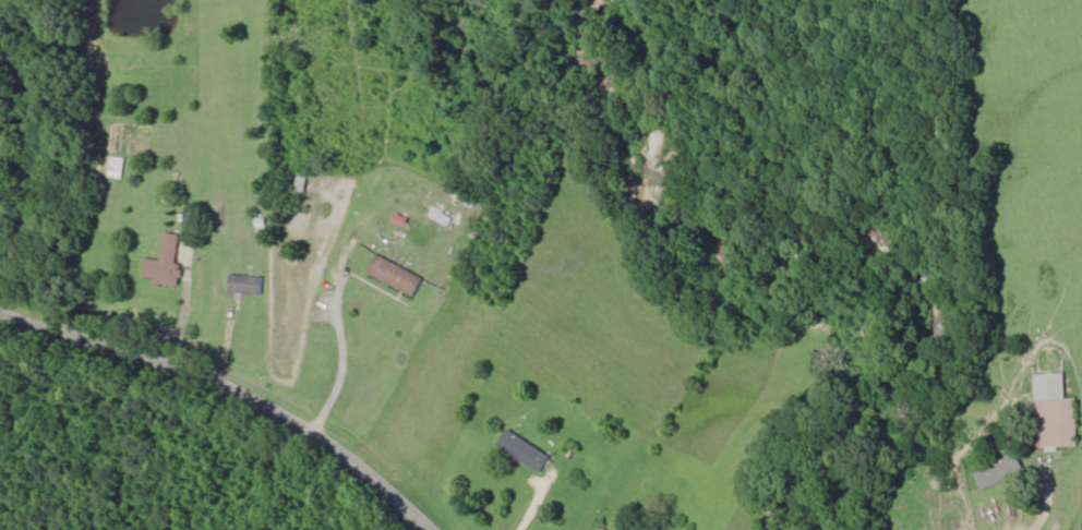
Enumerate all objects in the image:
building: (117, 172)
building: (166, 262)
building: (396, 276)
building: (245, 285)
road: (251, 389)
building: (1053, 415)
building: (526, 451)
building: (1001, 472)
building: (603, 529)

